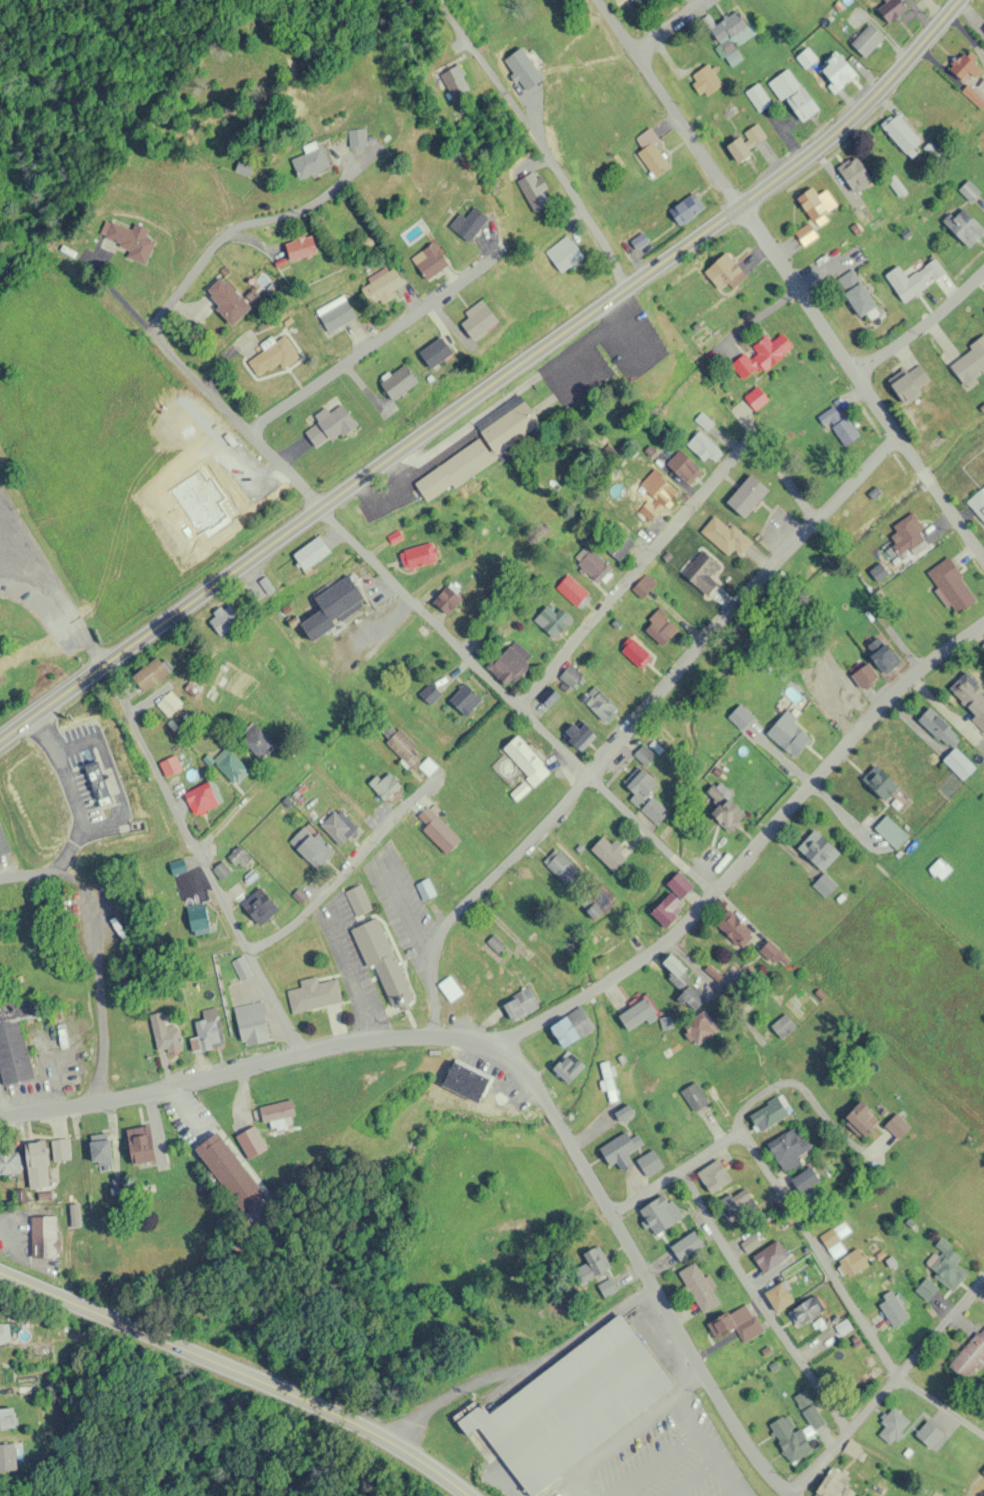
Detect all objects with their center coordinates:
building: (637, 4)
building: (891, 10)
road: (672, 25)
building: (983, 27)
building: (731, 29)
building: (866, 40)
building: (806, 57)
building: (964, 67)
building: (836, 72)
building: (705, 80)
building: (454, 81)
building: (793, 95)
building: (758, 96)
building: (900, 134)
building: (358, 137)
building: (745, 142)
building: (650, 152)
building: (312, 159)
building: (855, 176)
building: (533, 191)
building: (969, 191)
road: (563, 200)
building: (815, 203)
building: (686, 208)
road: (241, 224)
building: (467, 224)
building: (963, 227)
building: (805, 234)
building: (636, 238)
building: (131, 239)
building: (303, 248)
building: (562, 254)
building: (429, 261)
building: (723, 272)
building: (913, 279)
building: (384, 286)
road: (790, 287)
building: (855, 293)
building: (229, 299)
building: (337, 314)
building: (476, 320)
road: (922, 323)
road: (366, 342)
building: (434, 353)
building: (275, 356)
building: (759, 357)
building: (970, 363)
building: (401, 379)
road: (494, 383)
building: (908, 383)
road: (218, 399)
building: (755, 399)
building: (330, 423)
building: (837, 424)
building: (511, 430)
building: (703, 447)
building: (247, 466)
building: (682, 466)
building: (454, 469)
road: (780, 491)
building: (656, 494)
building: (746, 496)
building: (978, 504)
building: (724, 536)
building: (907, 537)
building: (618, 546)
building: (314, 550)
building: (418, 555)
building: (594, 568)
building: (700, 572)
road: (633, 583)
building: (643, 586)
building: (951, 586)
building: (573, 592)
building: (448, 599)
building: (336, 603)
road: (738, 611)
building: (226, 618)
building: (551, 621)
building: (658, 629)
building: (635, 654)
building: (881, 656)
building: (510, 664)
building: (152, 672)
building: (570, 676)
building: (548, 697)
building: (969, 697)
building: (464, 700)
building: (170, 702)
road: (507, 704)
building: (598, 704)
building: (740, 718)
building: (582, 735)
building: (788, 735)
building: (257, 739)
building: (946, 743)
building: (406, 748)
building: (643, 755)
building: (525, 760)
building: (171, 764)
building: (231, 764)
building: (386, 785)
building: (880, 785)
building: (204, 796)
building: (645, 796)
building: (723, 809)
road: (229, 825)
building: (339, 825)
building: (433, 827)
building: (890, 832)
building: (3, 842)
building: (312, 844)
road: (746, 846)
building: (818, 851)
building: (608, 853)
building: (241, 855)
building: (561, 868)
building: (222, 869)
building: (939, 869)
road: (343, 880)
road: (208, 885)
building: (679, 885)
building: (824, 885)
building: (359, 899)
building: (599, 901)
road: (475, 902)
building: (261, 904)
building: (666, 909)
building: (200, 917)
road: (730, 923)
building: (734, 930)
road: (95, 945)
building: (607, 945)
building: (495, 947)
building: (384, 961)
building: (674, 971)
building: (449, 989)
building: (314, 993)
building: (690, 998)
building: (519, 1004)
building: (637, 1013)
building: (255, 1021)
building: (783, 1026)
building: (571, 1028)
building: (166, 1029)
building: (208, 1029)
building: (700, 1030)
building: (16, 1037)
building: (567, 1067)
road: (504, 1071)
building: (464, 1082)
building: (608, 1083)
building: (744, 1083)
building: (694, 1096)
building: (278, 1110)
building: (623, 1113)
building: (861, 1119)
building: (897, 1126)
road: (738, 1139)
building: (144, 1144)
building: (61, 1148)
building: (102, 1148)
building: (621, 1149)
building: (789, 1149)
building: (10, 1160)
building: (38, 1163)
building: (649, 1163)
building: (231, 1171)
building: (713, 1176)
building: (737, 1206)
building: (659, 1214)
building: (835, 1234)
building: (45, 1236)
building: (750, 1243)
building: (686, 1246)
building: (84, 1252)
building: (769, 1256)
building: (851, 1263)
building: (591, 1265)
building: (945, 1265)
building: (698, 1288)
building: (926, 1289)
building: (776, 1294)
road: (846, 1304)
road: (758, 1310)
building: (805, 1310)
building: (893, 1311)
building: (736, 1323)
building: (4, 1332)
building: (969, 1357)
road: (239, 1371)
road: (887, 1383)
building: (802, 1399)
building: (571, 1405)
building: (812, 1417)
building: (7, 1420)
building: (892, 1425)
building: (929, 1434)
building: (789, 1439)
building: (983, 1470)
building: (830, 1485)
building: (861, 1495)

